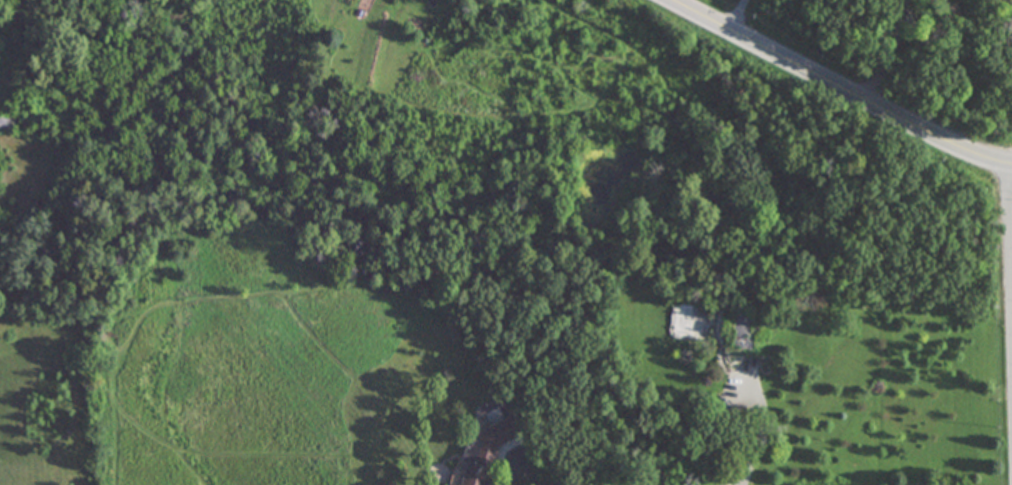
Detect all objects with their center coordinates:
road: (735, 17)
road: (838, 90)
building: (5, 122)
road: (762, 432)
building: (473, 462)
road: (524, 468)

